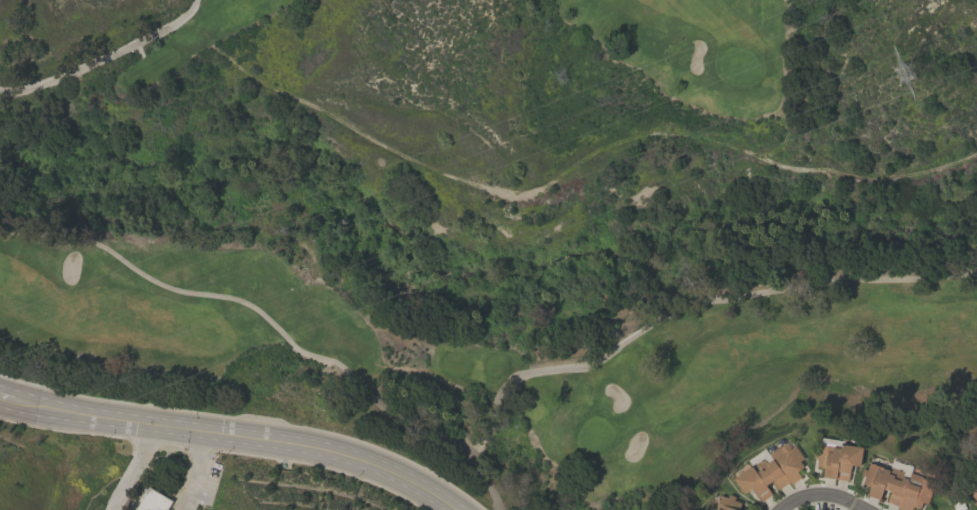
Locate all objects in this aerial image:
road: (103, 56)
power tower: (912, 68)
park: (516, 232)
road: (693, 300)
road: (251, 306)
road: (6, 398)
road: (240, 437)
building: (498, 454)
building: (835, 460)
road: (133, 468)
road: (196, 472)
building: (770, 472)
building: (896, 486)
road: (820, 493)
building: (975, 497)
building: (153, 501)
building: (727, 504)

